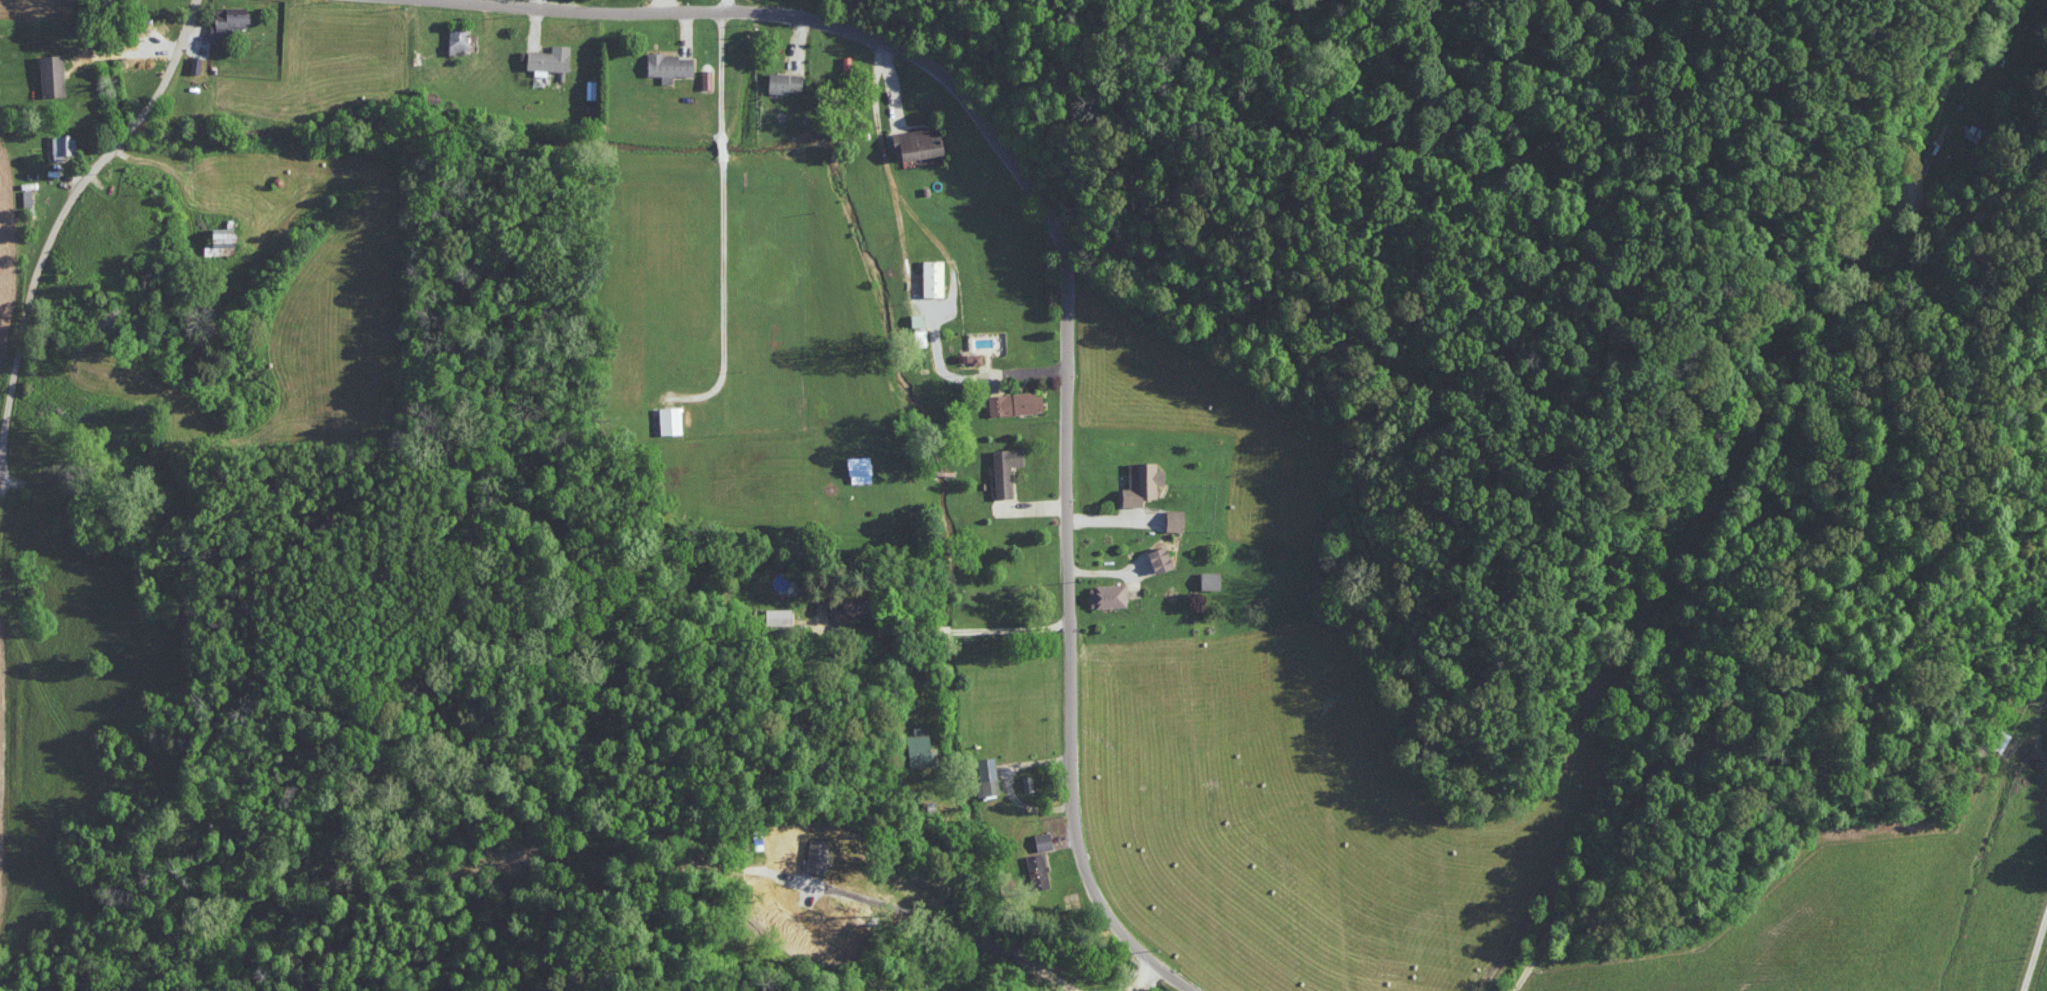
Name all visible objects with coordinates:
road: (449, 0)
road: (469, 1)
road: (537, 4)
road: (663, 6)
road: (729, 6)
road: (583, 10)
building: (230, 21)
road: (536, 25)
road: (686, 32)
building: (461, 38)
road: (799, 43)
building: (552, 58)
building: (672, 65)
building: (55, 74)
road: (720, 76)
building: (709, 77)
building: (788, 81)
road: (891, 85)
road: (876, 116)
building: (922, 142)
building: (65, 145)
road: (721, 149)
road: (178, 180)
building: (30, 198)
building: (225, 241)
road: (41, 263)
building: (936, 277)
road: (910, 278)
road: (723, 300)
building: (976, 357)
road: (1030, 373)
building: (1018, 402)
building: (673, 419)
road: (1066, 422)
building: (861, 464)
building: (1006, 470)
building: (1146, 479)
road: (1718, 487)
road: (1032, 511)
building: (1178, 519)
road: (1116, 523)
building: (1164, 558)
road: (1111, 574)
building: (1213, 579)
building: (1111, 594)
building: (846, 604)
building: (780, 615)
road: (1010, 629)
road: (943, 633)
road: (877, 634)
building: (922, 750)
building: (991, 776)
road: (1009, 787)
building: (1036, 860)
road: (2033, 945)
road: (1150, 969)
road: (1140, 981)
road: (1130, 989)
road: (1134, 989)

